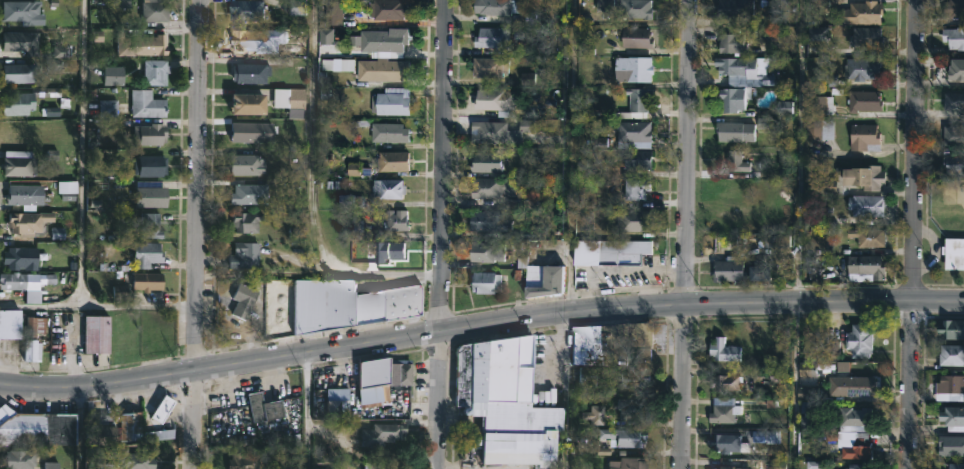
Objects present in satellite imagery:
building: (497, 7)
building: (818, 7)
building: (390, 9)
building: (632, 9)
building: (732, 9)
building: (953, 9)
building: (156, 11)
building: (248, 12)
building: (24, 13)
building: (334, 13)
building: (861, 13)
building: (825, 35)
building: (632, 37)
building: (953, 38)
building: (493, 39)
building: (861, 39)
building: (257, 40)
building: (392, 40)
building: (20, 41)
building: (731, 44)
building: (153, 45)
building: (728, 65)
building: (490, 67)
building: (954, 68)
building: (386, 69)
building: (637, 69)
building: (862, 69)
building: (20, 73)
building: (252, 73)
building: (154, 74)
building: (60, 98)
building: (291, 98)
building: (732, 98)
building: (492, 100)
building: (395, 101)
building: (638, 102)
building: (862, 102)
building: (953, 102)
building: (252, 103)
building: (21, 104)
building: (147, 105)
building: (819, 105)
building: (105, 109)
building: (816, 128)
building: (249, 131)
building: (504, 131)
building: (393, 132)
building: (632, 132)
building: (729, 132)
building: (150, 134)
building: (20, 136)
building: (861, 136)
building: (952, 136)
road: (83, 152)
road: (570, 158)
building: (397, 160)
building: (636, 160)
building: (488, 161)
building: (734, 161)
building: (152, 164)
building: (248, 164)
building: (953, 165)
building: (19, 166)
building: (866, 179)
building: (822, 186)
building: (496, 187)
building: (392, 188)
building: (637, 188)
building: (251, 193)
road: (309, 193)
building: (26, 194)
building: (153, 197)
building: (352, 200)
building: (865, 205)
building: (246, 220)
building: (398, 220)
building: (632, 221)
building: (31, 222)
building: (150, 225)
building: (497, 225)
road: (196, 234)
road: (445, 234)
road: (685, 234)
road: (797, 234)
road: (913, 234)
building: (864, 238)
building: (393, 251)
building: (487, 251)
building: (609, 252)
building: (953, 252)
building: (148, 253)
building: (247, 254)
building: (23, 258)
building: (727, 268)
building: (864, 268)
road: (615, 271)
building: (542, 276)
building: (17, 280)
building: (149, 281)
building: (485, 281)
building: (121, 293)
building: (244, 300)
road: (97, 304)
building: (351, 304)
building: (11, 322)
road: (479, 326)
building: (950, 328)
building: (99, 333)
building: (35, 334)
building: (128, 334)
building: (642, 336)
building: (857, 339)
building: (722, 349)
building: (950, 354)
building: (583, 374)
building: (632, 376)
building: (385, 377)
building: (723, 382)
building: (851, 387)
building: (949, 388)
road: (565, 393)
building: (505, 404)
building: (811, 406)
building: (266, 407)
building: (340, 408)
building: (630, 408)
road: (307, 411)
building: (722, 413)
building: (591, 415)
building: (952, 415)
building: (853, 419)
building: (149, 422)
building: (36, 427)
building: (103, 428)
road: (80, 431)
building: (383, 433)
building: (621, 435)
building: (849, 443)
building: (729, 444)
building: (951, 444)
building: (22, 458)
building: (139, 460)
building: (244, 461)
building: (625, 463)
building: (372, 465)
building: (955, 465)
building: (53, 466)
building: (856, 466)
building: (728, 467)

